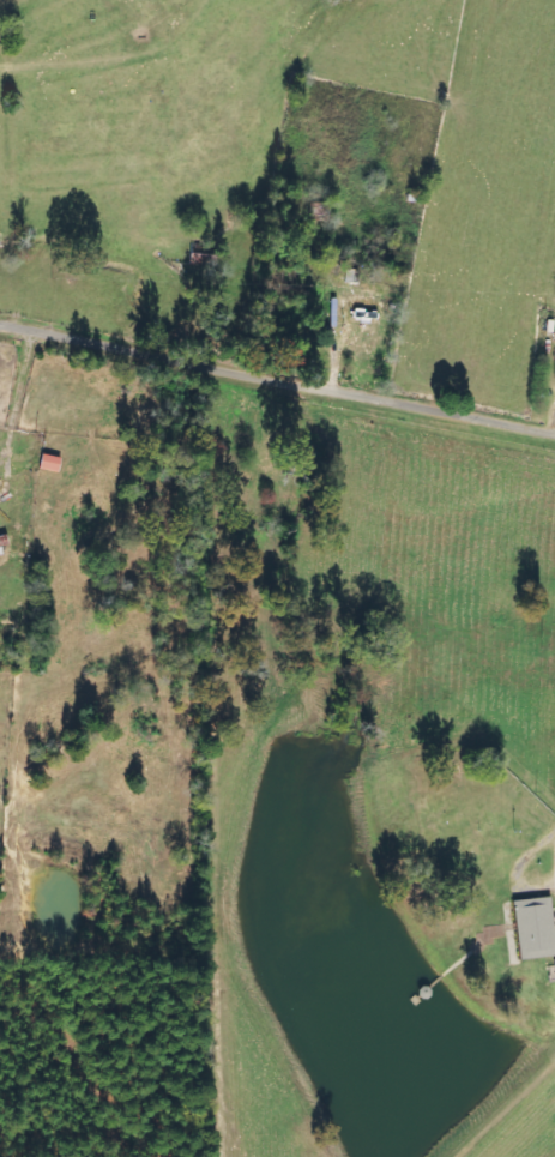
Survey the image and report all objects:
building: (361, 317)
road: (277, 380)
building: (49, 463)
building: (2, 542)
road: (521, 868)
building: (533, 928)
building: (554, 965)

